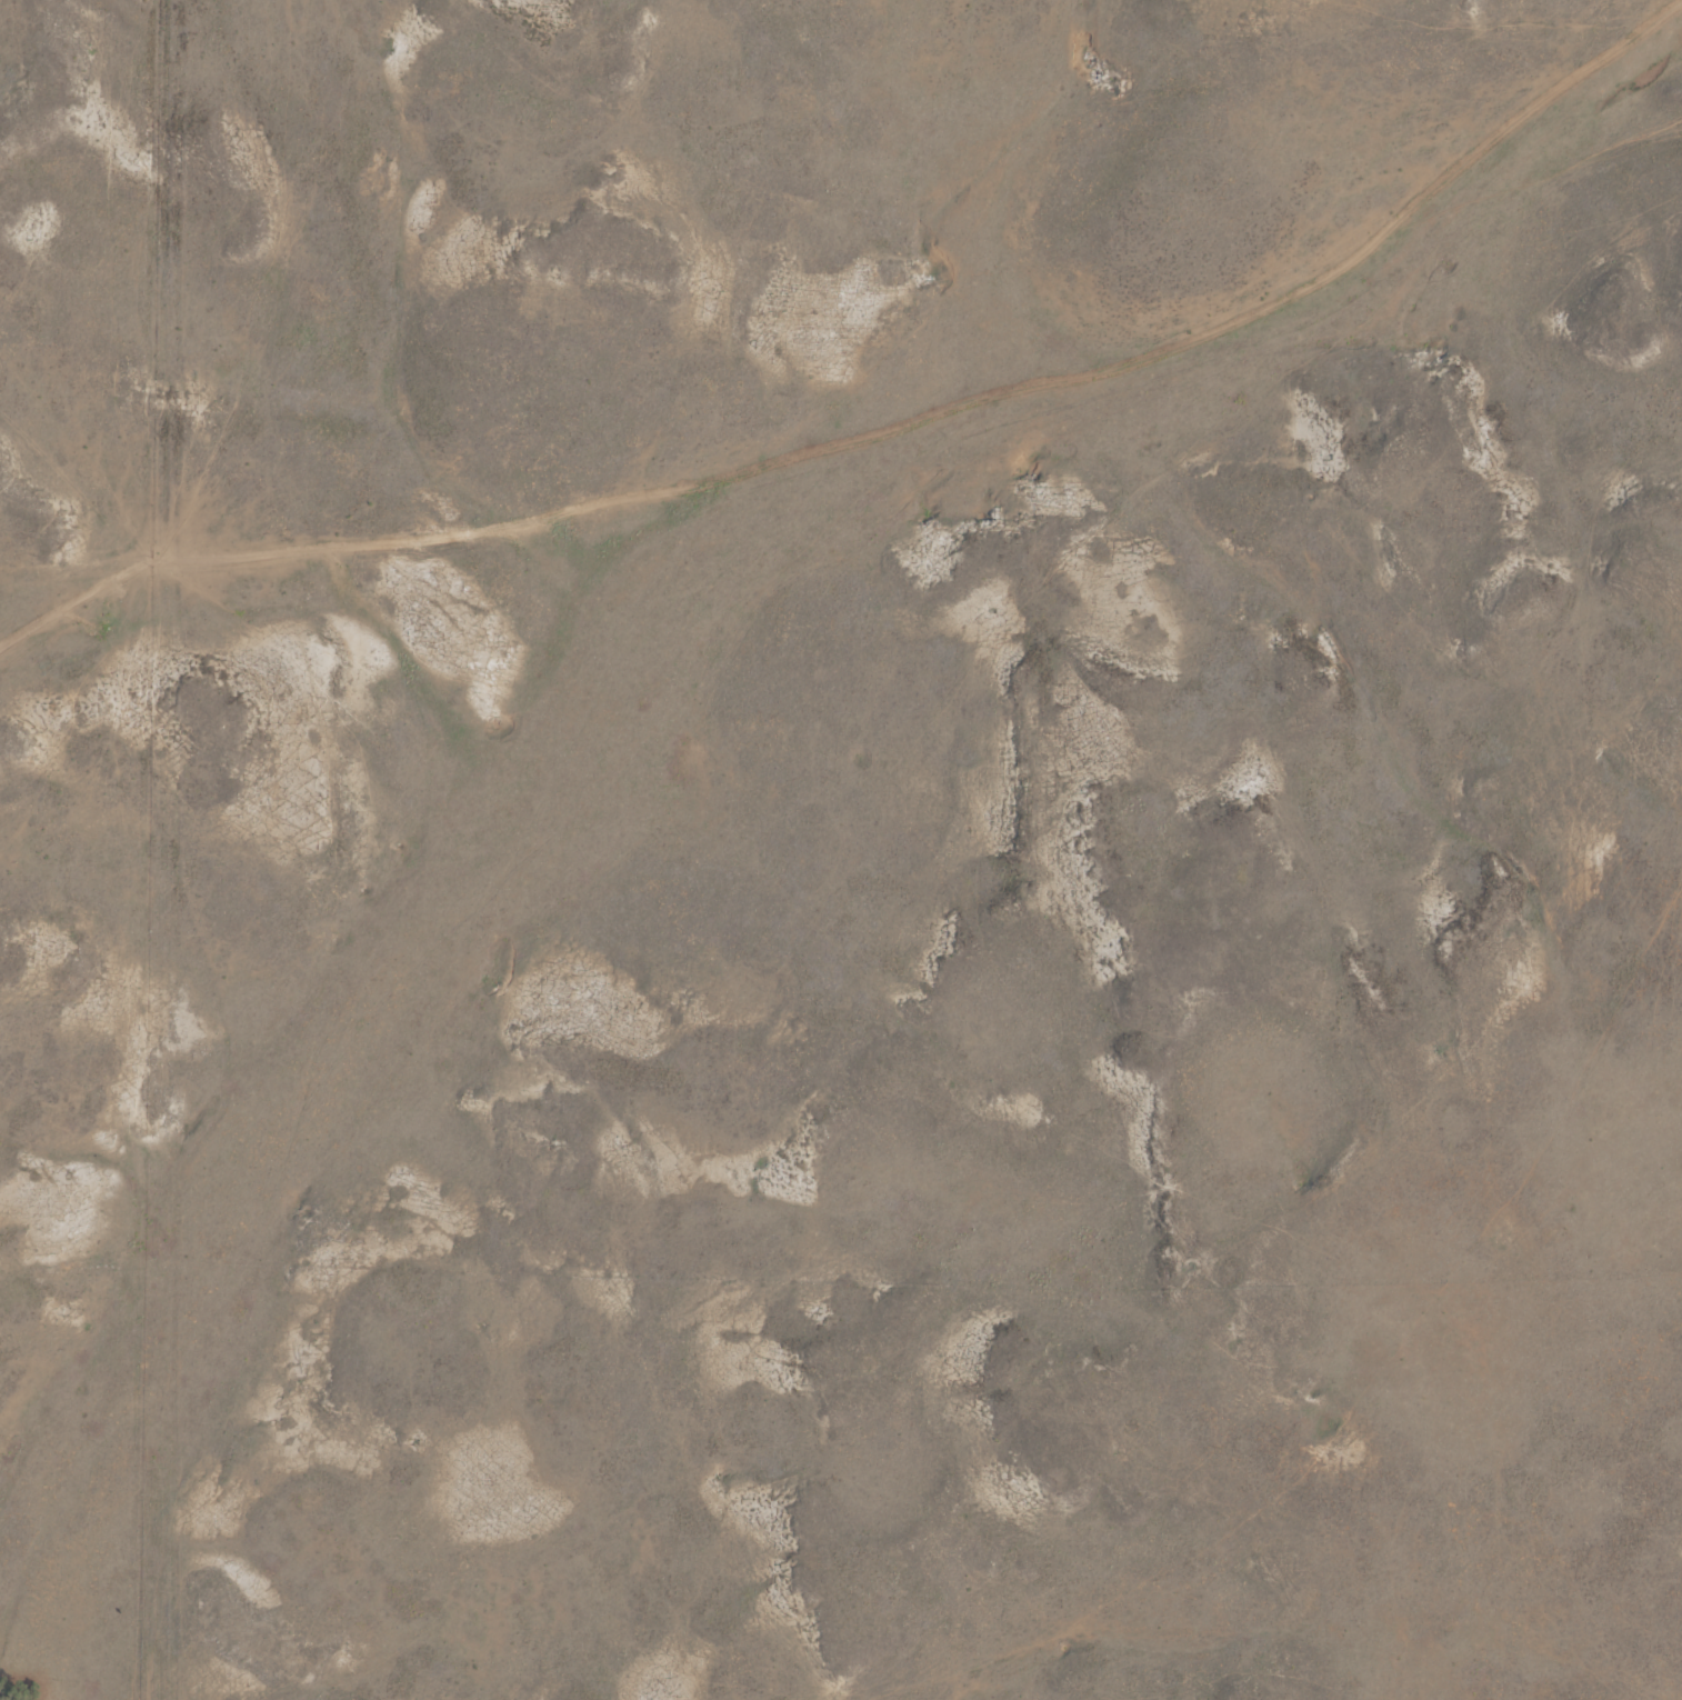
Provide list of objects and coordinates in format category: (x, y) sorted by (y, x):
road: (202, 850)

